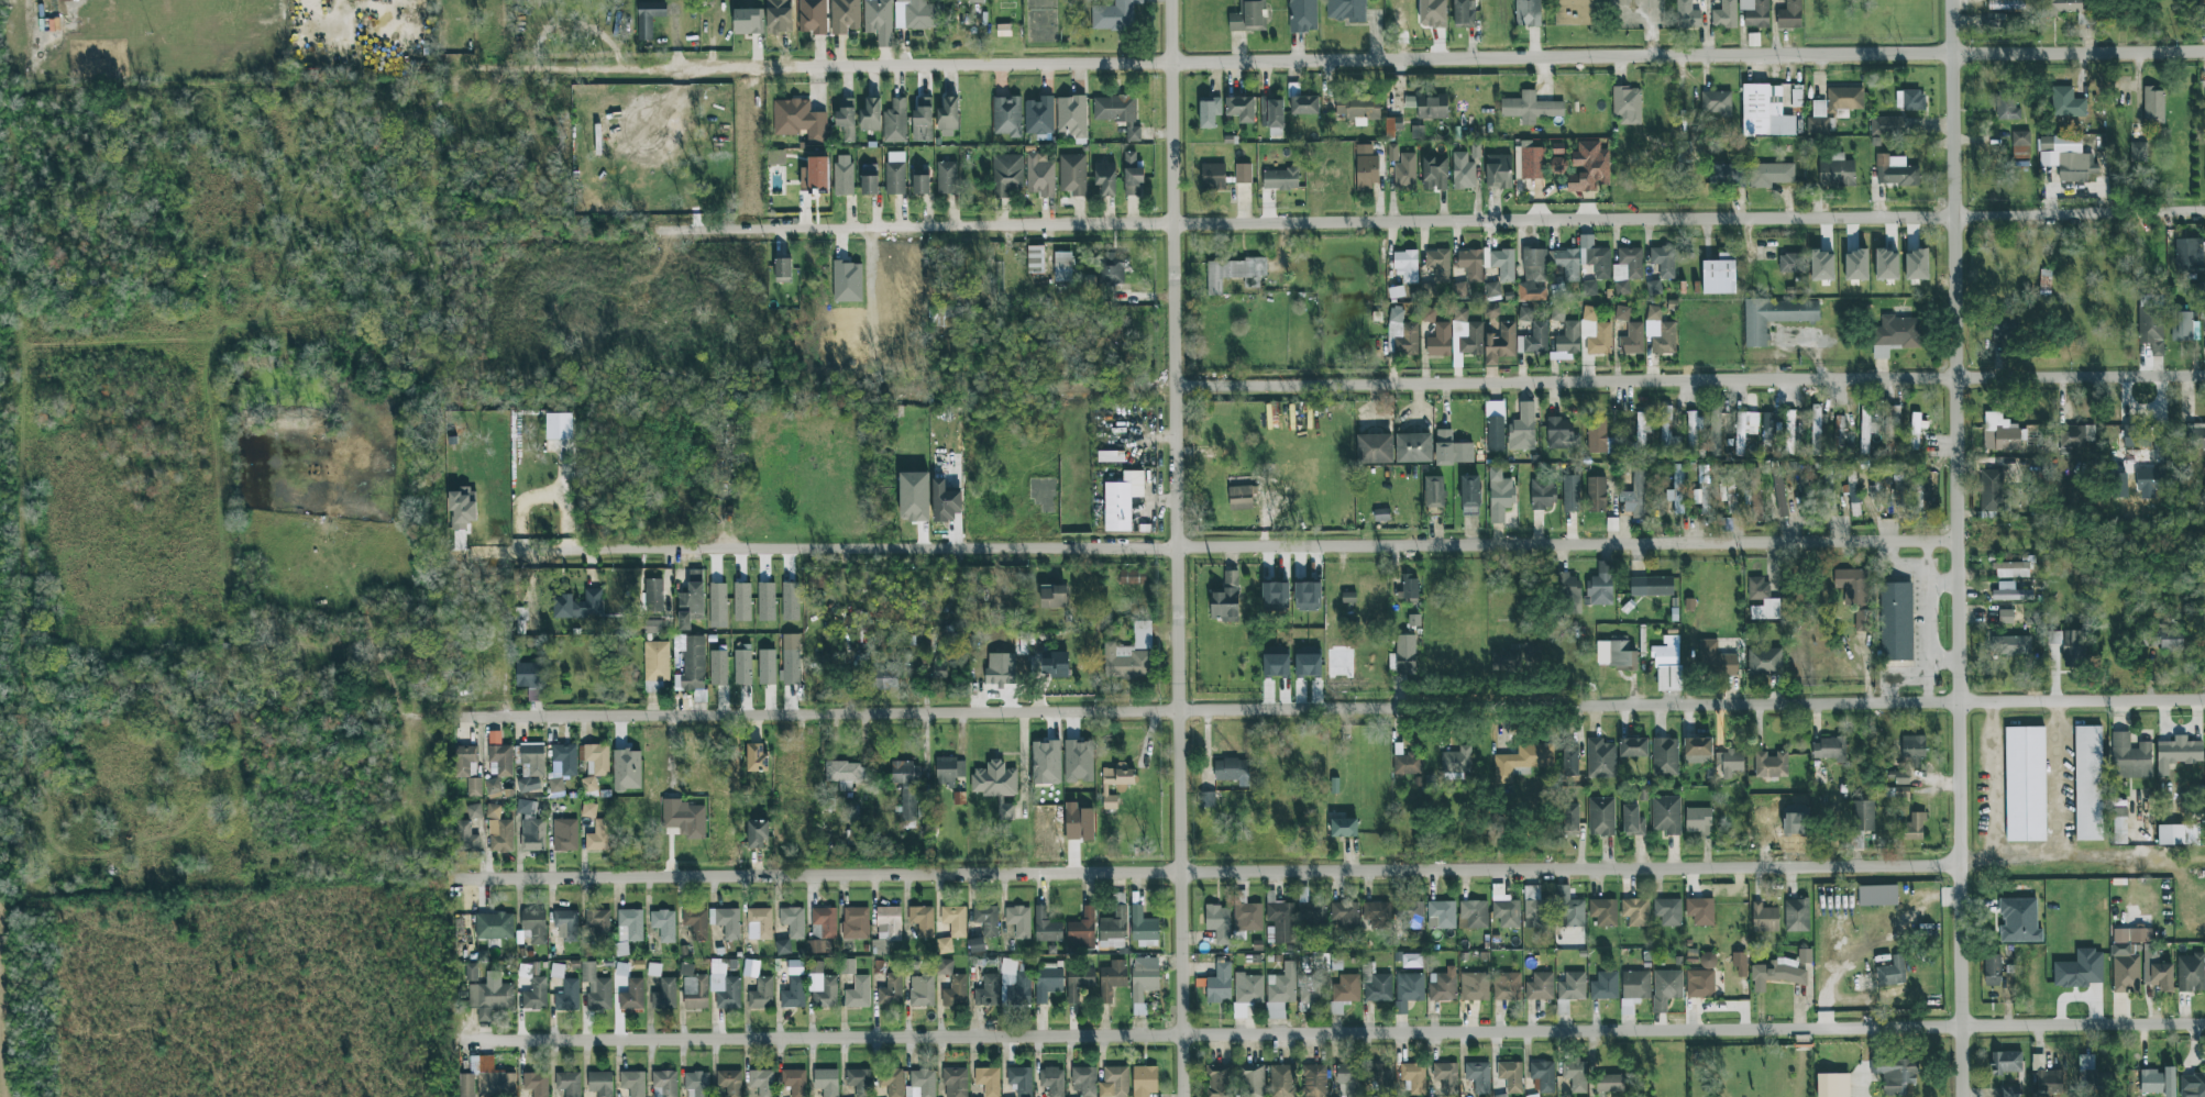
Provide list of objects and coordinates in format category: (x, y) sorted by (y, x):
building: (975, 1)
building: (2006, 4)
road: (1650, 5)
building: (1347, 10)
building: (1573, 12)
road: (1630, 12)
building: (1755, 12)
building: (1432, 13)
building: (1464, 13)
building: (1528, 13)
building: (2202, 13)
building: (918, 14)
building: (1686, 14)
building: (1114, 15)
building: (1302, 15)
building: (1724, 15)
building: (1789, 15)
building: (812, 16)
building: (845, 16)
building: (1248, 16)
building: (648, 18)
building: (878, 20)
building: (748, 21)
building: (1998, 21)
road: (1652, 34)
road: (1706, 37)
road: (1413, 59)
building: (2204, 93)
building: (1910, 100)
building: (1716, 102)
building: (2066, 102)
building: (1303, 104)
building: (1627, 104)
building: (1429, 106)
building: (2006, 106)
building: (2153, 106)
building: (1358, 108)
building: (1530, 108)
building: (1833, 108)
building: (1241, 109)
building: (1209, 111)
building: (1765, 111)
building: (923, 112)
building: (1271, 112)
building: (1117, 113)
building: (870, 114)
building: (948, 115)
building: (1071, 115)
building: (1006, 117)
building: (1039, 117)
building: (846, 119)
building: (800, 120)
building: (895, 122)
building: (1389, 125)
building: (1893, 125)
building: (1416, 132)
building: (926, 134)
building: (2020, 144)
building: (1474, 149)
building: (2138, 151)
building: (1683, 152)
building: (2066, 157)
building: (1366, 167)
building: (1588, 167)
building: (1498, 170)
building: (1895, 170)
building: (1463, 171)
building: (1719, 171)
building: (1837, 171)
building: (895, 173)
building: (1434, 173)
building: (815, 174)
building: (1006, 174)
building: (1072, 174)
building: (1132, 174)
building: (1243, 174)
building: (1404, 174)
building: (1771, 174)
building: (844, 175)
building: (1039, 175)
building: (1213, 176)
building: (946, 177)
building: (1739, 177)
building: (1105, 178)
building: (869, 179)
building: (1280, 179)
building: (920, 185)
road: (1424, 221)
building: (2189, 255)
building: (1596, 257)
building: (1035, 259)
building: (1663, 261)
building: (1791, 263)
building: (1438, 264)
building: (1470, 264)
building: (1502, 264)
building: (1568, 264)
building: (1916, 264)
building: (1405, 265)
building: (1821, 265)
building: (1855, 265)
building: (1886, 265)
building: (1062, 266)
road: (1958, 268)
building: (1627, 269)
building: (782, 270)
building: (1234, 273)
building: (1533, 275)
building: (1719, 275)
building: (847, 281)
building: (2044, 282)
building: (1653, 287)
building: (1588, 288)
building: (1427, 289)
building: (1459, 289)
building: (1491, 289)
building: (1491, 310)
building: (1557, 312)
building: (1524, 313)
building: (1622, 313)
building: (942, 314)
building: (1459, 314)
building: (1427, 315)
building: (1774, 317)
building: (2181, 325)
building: (2004, 328)
building: (2150, 329)
building: (2195, 330)
building: (1660, 331)
building: (1595, 332)
building: (1401, 334)
building: (1895, 335)
building: (1536, 339)
building: (1568, 339)
building: (1471, 340)
building: (1632, 340)
building: (1440, 341)
building: (1500, 343)
road: (1691, 380)
building: (1866, 422)
building: (558, 425)
building: (1522, 428)
building: (1771, 428)
building: (1890, 428)
building: (1744, 429)
building: (1816, 429)
building: (1693, 431)
building: (1717, 431)
building: (1839, 431)
building: (1914, 431)
building: (1788, 432)
building: (1495, 433)
building: (1999, 433)
building: (1561, 434)
building: (1640, 434)
building: (1596, 435)
building: (1667, 435)
building: (2075, 435)
building: (2195, 435)
building: (2136, 436)
building: (1413, 447)
building: (1375, 448)
building: (1452, 450)
building: (1110, 456)
building: (2152, 479)
building: (1677, 489)
building: (1702, 489)
building: (1876, 489)
building: (1991, 490)
building: (1434, 491)
building: (1899, 491)
building: (1727, 492)
building: (1779, 492)
building: (1469, 494)
building: (1542, 494)
building: (1570, 494)
building: (1596, 494)
building: (1853, 494)
building: (1920, 494)
building: (1499, 495)
building: (1806, 495)
building: (914, 496)
building: (1634, 496)
building: (1754, 496)
building: (1239, 498)
building: (1122, 500)
building: (945, 501)
road: (1162, 502)
building: (462, 508)
building: (1381, 514)
road: (1180, 548)
road: (1245, 550)
road: (1926, 553)
building: (2010, 569)
building: (1132, 576)
road: (1943, 583)
building: (1601, 585)
building: (1652, 586)
building: (1852, 586)
building: (1408, 588)
building: (2004, 590)
building: (1569, 594)
building: (654, 595)
building: (1052, 596)
building: (1275, 596)
building: (1308, 596)
building: (1348, 597)
building: (1225, 599)
building: (1762, 599)
road: (1926, 599)
building: (691, 601)
building: (742, 601)
building: (767, 601)
building: (791, 601)
building: (717, 602)
building: (578, 605)
building: (2005, 617)
building: (2031, 617)
building: (1414, 620)
building: (1863, 620)
building: (1896, 621)
building: (655, 628)
building: (860, 635)
building: (2162, 636)
building: (2010, 645)
building: (2072, 647)
building: (1621, 654)
building: (1129, 655)
building: (1518, 657)
road: (1944, 657)
building: (1716, 660)
building: (692, 662)
building: (1764, 662)
building: (1308, 663)
building: (1055, 664)
building: (1667, 664)
building: (655, 665)
building: (1276, 665)
building: (767, 666)
building: (791, 666)
building: (718, 667)
building: (742, 667)
building: (1000, 668)
building: (528, 675)
building: (884, 676)
road: (1890, 676)
road: (1962, 699)
road: (1330, 709)
building: (494, 738)
building: (1633, 747)
building: (1829, 749)
building: (1697, 750)
building: (1912, 751)
building: (2178, 753)
building: (1665, 756)
building: (532, 757)
building: (2130, 757)
building: (757, 758)
building: (1600, 758)
building: (596, 760)
building: (1524, 760)
building: (465, 761)
building: (499, 761)
building: (1079, 761)
building: (1456, 761)
building: (1569, 761)
building: (1729, 762)
building: (1407, 764)
building: (1771, 765)
building: (562, 766)
building: (627, 769)
building: (1231, 769)
building: (949, 771)
building: (846, 774)
building: (1898, 777)
road: (2055, 780)
road: (1992, 782)
building: (1115, 783)
building: (2087, 783)
building: (588, 784)
building: (2025, 784)
building: (492, 785)
building: (528, 785)
building: (996, 785)
building: (474, 787)
building: (906, 789)
building: (1901, 791)
building: (1208, 800)
building: (526, 807)
building: (588, 810)
building: (474, 811)
building: (1666, 815)
building: (1601, 817)
building: (685, 819)
building: (1570, 819)
building: (1698, 820)
building: (1632, 821)
building: (1861, 821)
building: (1343, 825)
building: (2119, 825)
building: (1914, 828)
building: (498, 830)
building: (757, 833)
building: (532, 834)
building: (564, 834)
building: (2176, 834)
building: (598, 835)
building: (465, 838)
road: (2075, 860)
road: (1216, 871)
building: (1877, 896)
building: (1504, 907)
building: (1536, 908)
building: (1568, 909)
building: (1635, 911)
building: (1667, 911)
building: (1700, 911)
building: (1603, 912)
building: (1246, 913)
building: (1313, 913)
building: (1345, 915)
building: (1377, 915)
building: (1410, 915)
building: (1441, 915)
building: (1474, 915)
building: (1796, 915)
building: (1764, 918)
building: (986, 919)
building: (922, 920)
building: (955, 920)
building: (726, 921)
building: (761, 921)
building: (793, 921)
building: (825, 921)
building: (1018, 921)
building: (1280, 921)
building: (2019, 921)
building: (696, 922)
building: (855, 922)
building: (1217, 922)
building: (599, 923)
building: (534, 924)
building: (566, 924)
building: (663, 924)
building: (494, 926)
building: (630, 926)
building: (1046, 927)
building: (1143, 928)
building: (886, 929)
building: (1113, 929)
building: (1081, 931)
building: (816, 932)
road: (1964, 942)
building: (944, 945)
building: (977, 945)
building: (782, 946)
building: (818, 946)
building: (1804, 956)
building: (2127, 957)
building: (1740, 963)
building: (847, 966)
building: (945, 966)
building: (750, 967)
building: (795, 967)
building: (1993, 968)
building: (653, 969)
building: (2080, 969)
building: (2156, 971)
building: (471, 972)
building: (1892, 972)
building: (2191, 973)
building: (1776, 974)
building: (1144, 977)
building: (1112, 978)
building: (1047, 982)
building: (1078, 983)
building: (1014, 984)
building: (1220, 984)
building: (1700, 984)
building: (1282, 985)
building: (724, 986)
building: (820, 986)
building: (1474, 986)
building: (1507, 986)
building: (1540, 986)
building: (1572, 986)
building: (1605, 986)
building: (1442, 987)
building: (596, 988)
building: (694, 988)
building: (1248, 988)
building: (1312, 988)
building: (1378, 988)
building: (1666, 988)
building: (1633, 989)
building: (922, 990)
building: (1408, 990)
building: (890, 991)
building: (955, 991)
building: (988, 991)
building: (1344, 991)
building: (858, 993)
building: (761, 994)
building: (793, 994)
building: (536, 995)
building: (632, 995)
building: (664, 995)
building: (490, 996)
building: (567, 996)
building: (1562, 1007)
building: (1139, 1009)
road: (1342, 1029)
road: (1965, 1061)
building: (2006, 1062)
building: (2093, 1071)
building: (1380, 1073)
building: (1895, 1074)
building: (1543, 1075)
building: (1575, 1075)
building: (1478, 1076)
building: (1510, 1076)
building: (1414, 1077)
building: (1446, 1077)
building: (2046, 1077)
building: (492, 1078)
building: (1349, 1078)
building: (988, 1081)
building: (1021, 1081)
building: (1052, 1081)
building: (1084, 1081)
building: (1220, 1081)
building: (1252, 1081)
building: (1282, 1081)
building: (1314, 1081)
building: (762, 1082)
building: (794, 1082)
building: (826, 1082)
building: (859, 1082)
building: (891, 1082)
building: (955, 1082)
building: (1114, 1082)
building: (1144, 1082)
building: (2158, 1082)
building: (600, 1083)
building: (632, 1083)
building: (729, 1083)
building: (1610, 1083)
building: (536, 1084)
building: (569, 1084)
building: (664, 1084)
building: (696, 1084)
building: (920, 1084)
building: (466, 1085)
building: (1832, 1085)
building: (2192, 1085)
building: (2009, 1092)

